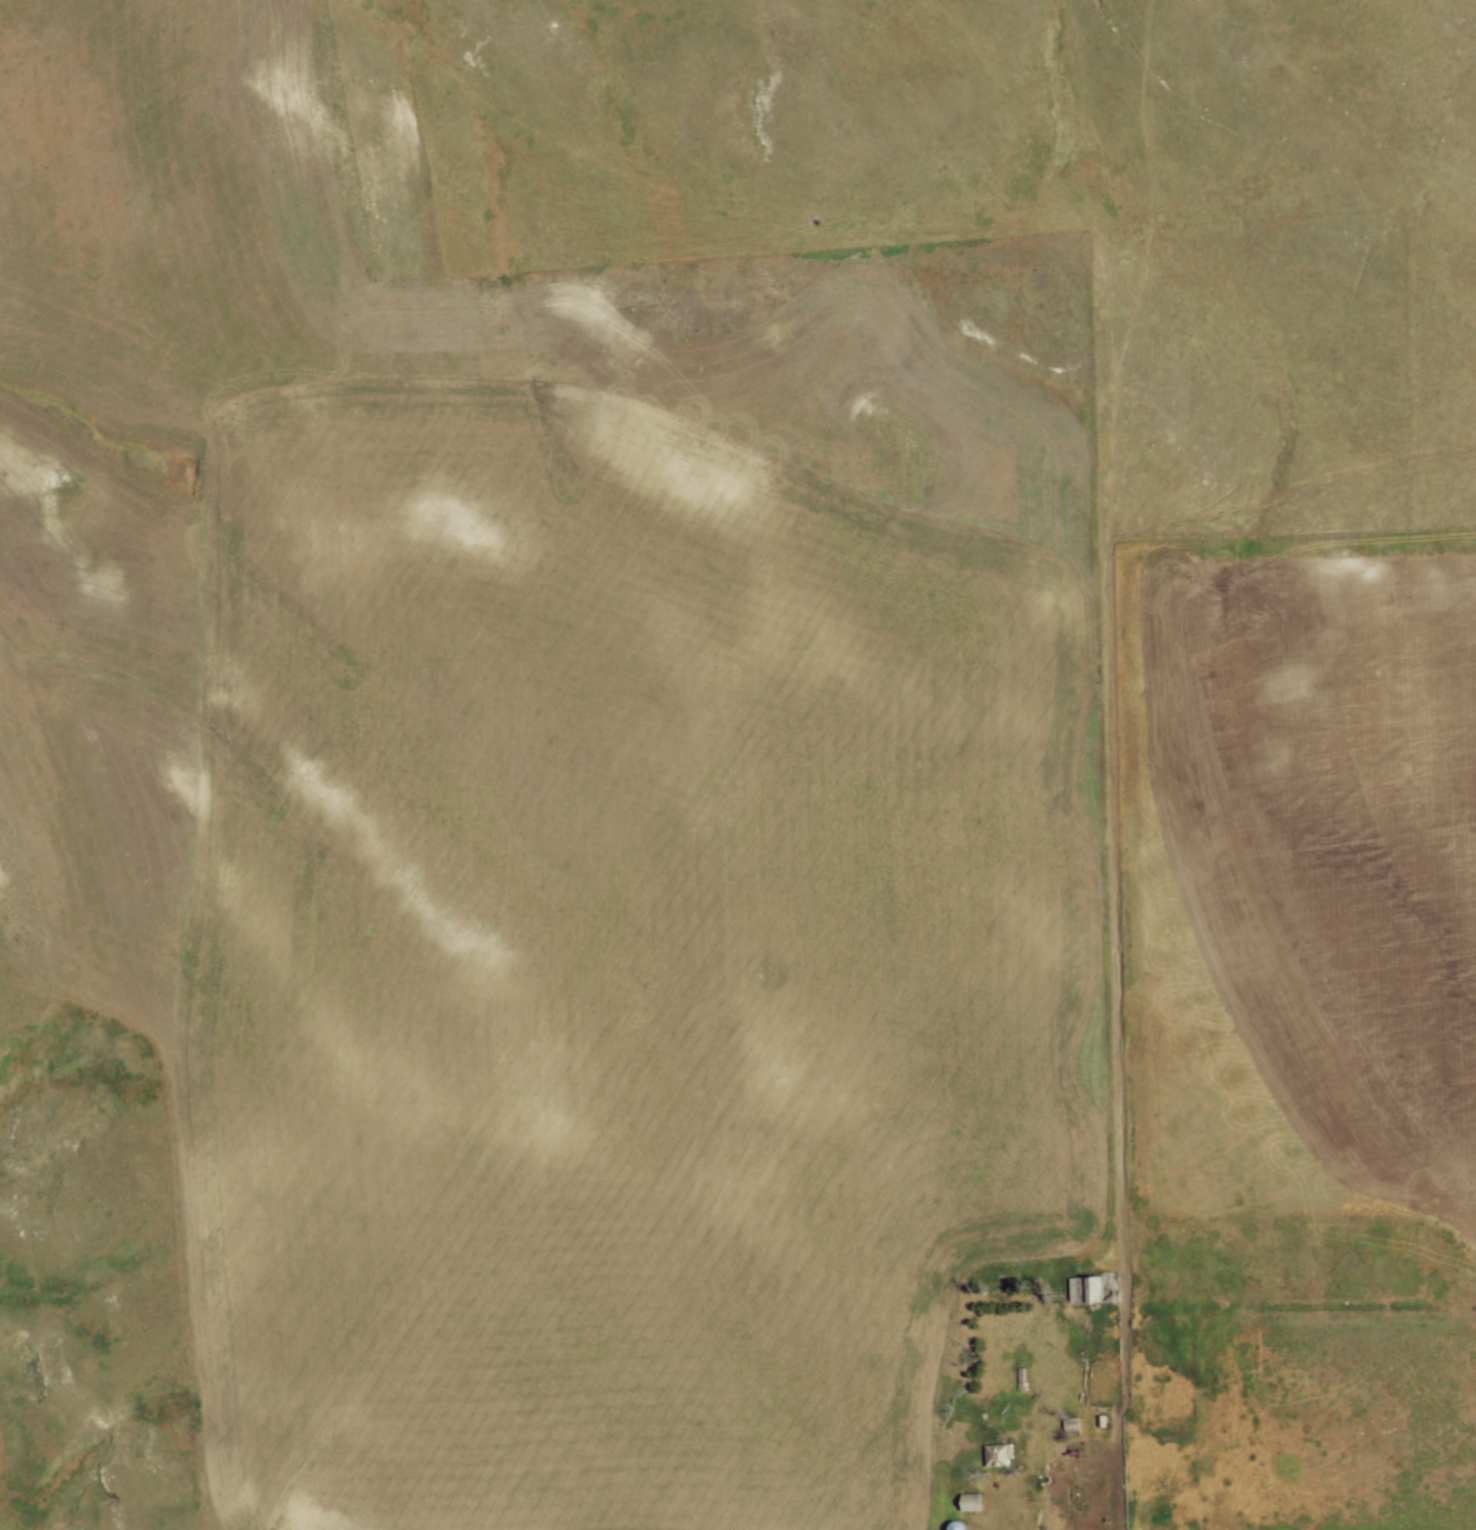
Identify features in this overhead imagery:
crop: (534, 817)
crop: (1311, 896)
building: (1085, 1290)
crop: (1341, 1421)
building: (1070, 1423)
building: (996, 1452)
building: (970, 1499)
road: (1070, 1511)
silo: (954, 1525)
building: (956, 1526)

